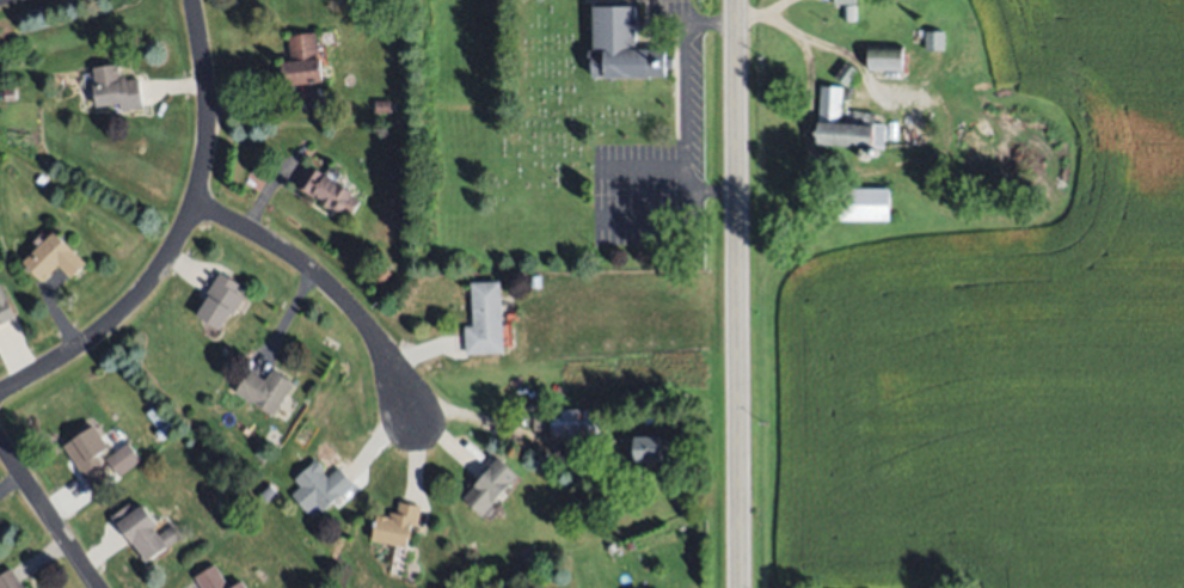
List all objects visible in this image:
building: (842, 1)
building: (848, 11)
road: (710, 19)
building: (933, 39)
building: (621, 44)
building: (884, 57)
building: (301, 60)
building: (846, 73)
building: (115, 88)
building: (7, 93)
building: (382, 105)
park: (560, 106)
road: (688, 118)
building: (841, 121)
building: (326, 188)
building: (861, 203)
road: (179, 238)
building: (53, 257)
building: (381, 274)
building: (535, 281)
road: (330, 283)
building: (244, 287)
road: (736, 294)
building: (220, 300)
building: (5, 306)
building: (484, 319)
crop: (1002, 345)
building: (264, 390)
road: (467, 415)
building: (539, 419)
building: (572, 422)
building: (648, 448)
building: (86, 454)
building: (122, 460)
building: (319, 485)
building: (489, 488)
building: (268, 492)
road: (48, 514)
building: (395, 525)
building: (147, 529)
building: (575, 537)
building: (10, 580)
building: (215, 580)

